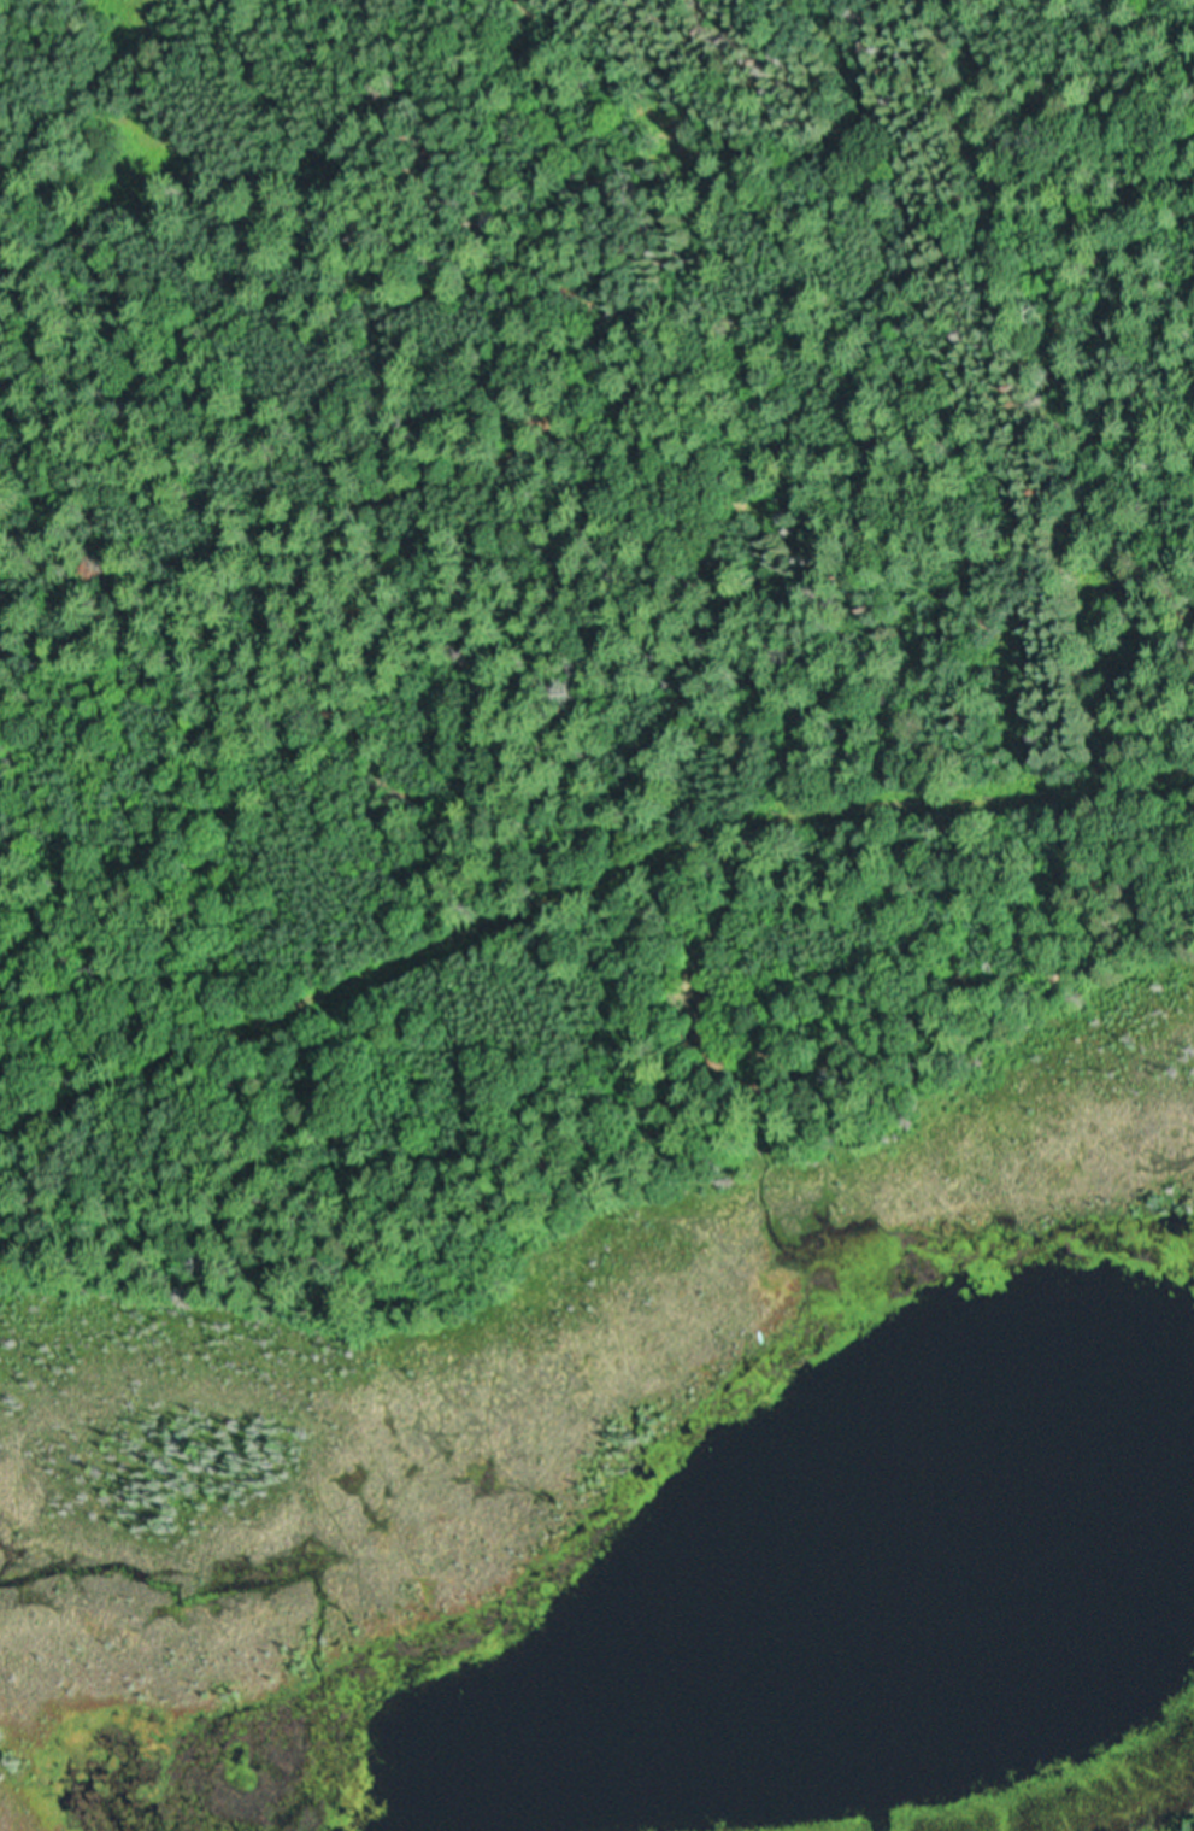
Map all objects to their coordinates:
road: (582, 892)

